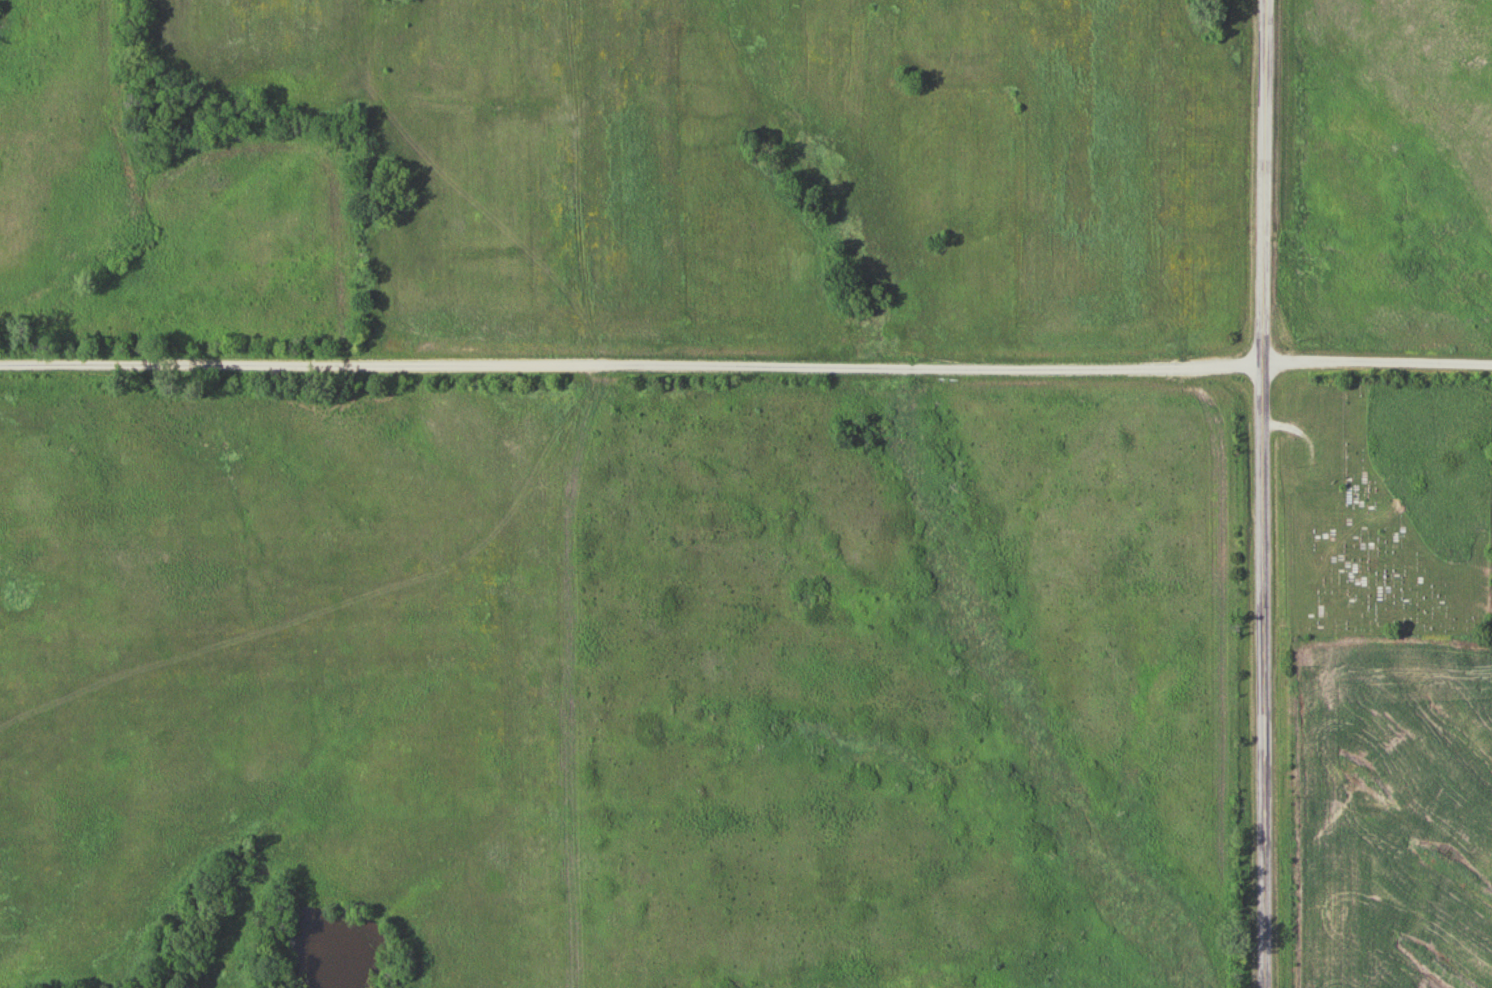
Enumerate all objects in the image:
road: (1378, 358)
road: (631, 363)
road: (1262, 493)
park: (1390, 509)

